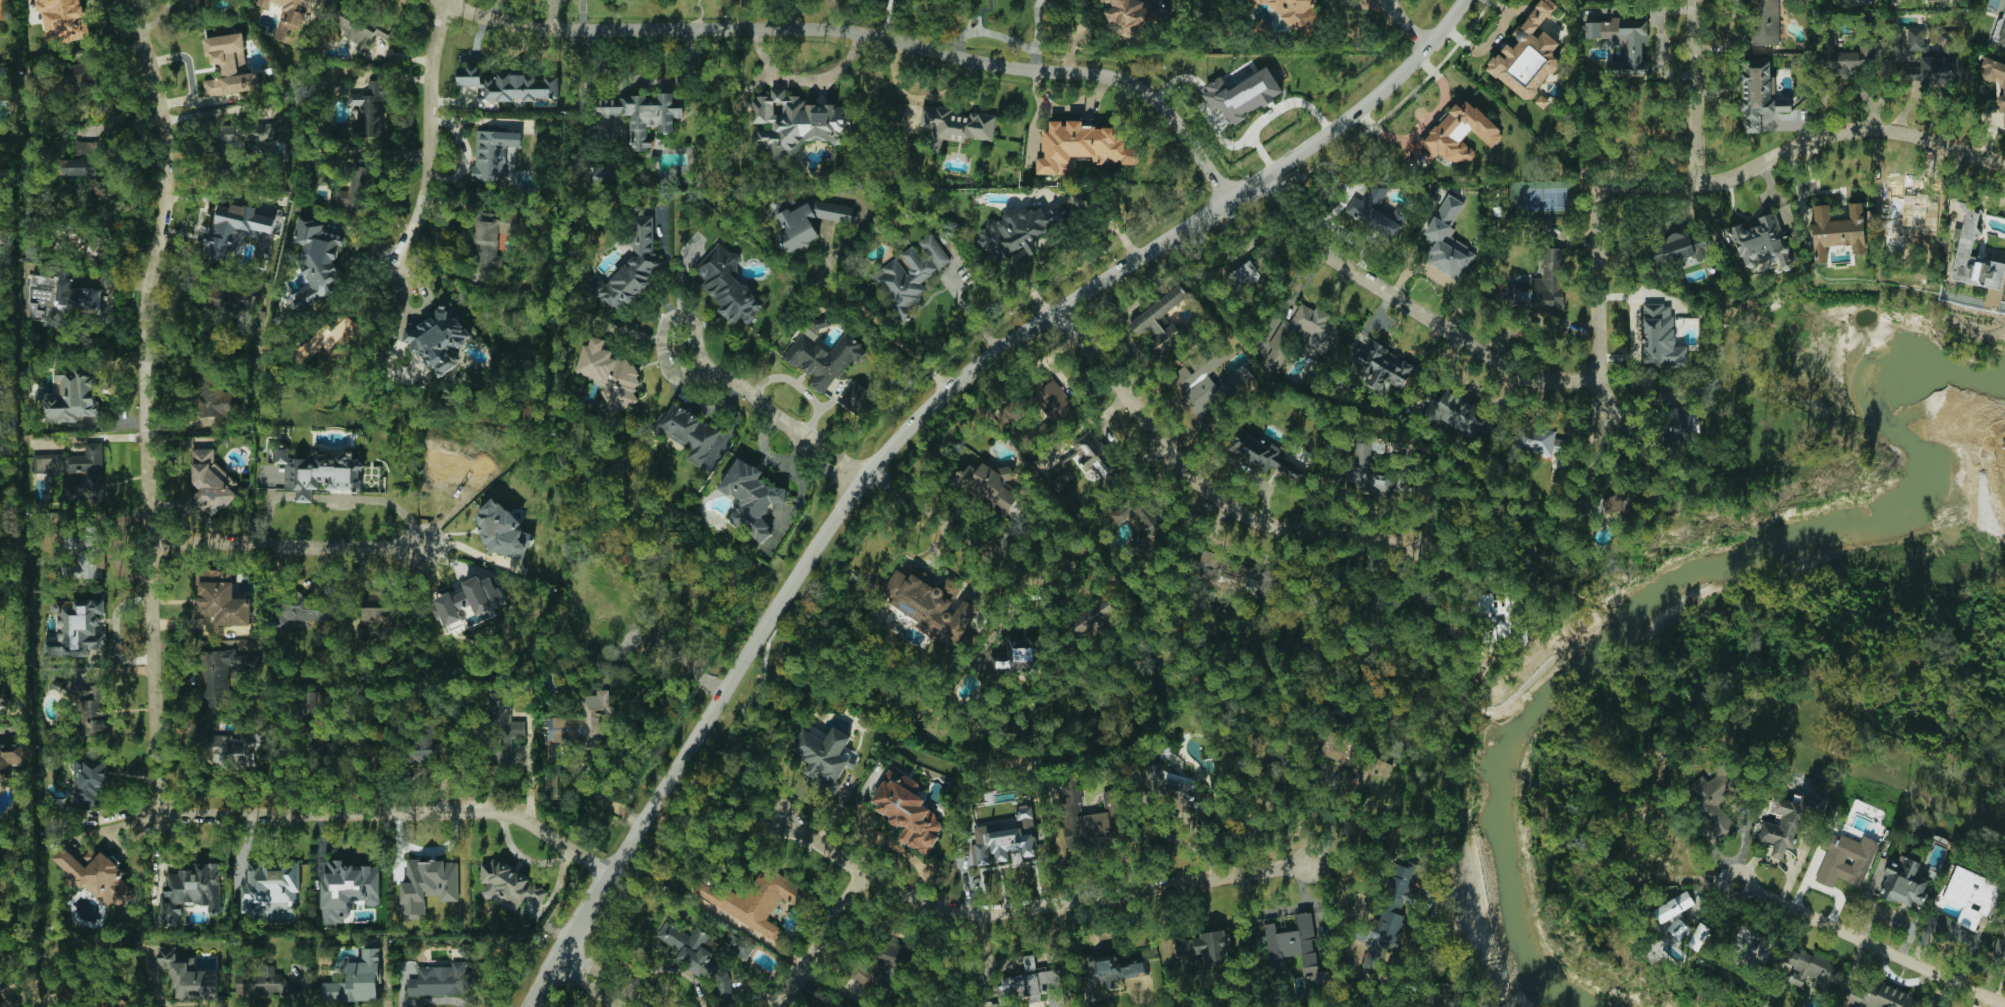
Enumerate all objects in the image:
building: (1103, 1)
building: (190, 4)
building: (4, 9)
building: (1294, 12)
road: (832, 13)
road: (739, 14)
building: (1127, 14)
building: (289, 18)
building: (64, 19)
building: (1764, 22)
road: (1406, 24)
building: (360, 26)
road: (863, 33)
road: (1035, 33)
road: (1069, 36)
building: (1622, 41)
building: (1527, 54)
building: (1844, 58)
building: (229, 65)
building: (1933, 70)
building: (3, 77)
road: (804, 78)
building: (1996, 80)
road: (643, 82)
building: (80, 83)
building: (511, 84)
road: (1692, 92)
building: (1243, 93)
building: (1759, 94)
building: (1541, 101)
road: (1062, 106)
building: (369, 109)
road: (1270, 113)
building: (643, 115)
building: (794, 122)
building: (954, 124)
road: (1846, 130)
building: (1460, 132)
road: (428, 134)
building: (263, 135)
building: (1082, 146)
building: (85, 148)
building: (493, 154)
building: (77, 167)
building: (356, 188)
building: (1375, 211)
building: (810, 221)
road: (1098, 226)
building: (1020, 229)
building: (1837, 230)
building: (240, 231)
building: (1447, 240)
building: (1761, 241)
building: (1964, 246)
building: (1679, 248)
road: (1597, 259)
building: (318, 260)
building: (630, 269)
building: (909, 275)
building: (1244, 275)
road: (96, 279)
road: (1097, 282)
building: (1543, 285)
building: (729, 286)
road: (957, 297)
building: (60, 300)
building: (232, 300)
building: (255, 306)
road: (1411, 310)
building: (1159, 320)
road: (665, 325)
road: (890, 331)
building: (337, 333)
building: (1661, 336)
building: (438, 339)
building: (1317, 340)
building: (824, 359)
building: (1380, 366)
building: (610, 374)
building: (213, 393)
building: (854, 395)
building: (73, 396)
building: (1039, 400)
road: (143, 403)
building: (1455, 411)
building: (1679, 421)
road: (783, 423)
building: (689, 432)
building: (1540, 441)
building: (1264, 454)
building: (1370, 471)
building: (77, 472)
building: (320, 472)
building: (1060, 475)
building: (211, 481)
building: (987, 484)
road: (1205, 492)
road: (306, 496)
building: (751, 497)
road: (379, 500)
building: (1624, 500)
road: (270, 509)
building: (1142, 518)
road: (949, 520)
building: (504, 531)
road: (282, 546)
river: (1788, 554)
building: (87, 557)
building: (1240, 576)
building: (222, 599)
building: (470, 599)
building: (930, 603)
building: (304, 609)
building: (1095, 615)
building: (377, 618)
building: (1500, 618)
road: (764, 624)
building: (76, 628)
building: (1015, 657)
building: (222, 674)
building: (311, 721)
building: (579, 721)
building: (502, 728)
building: (235, 743)
building: (421, 744)
building: (11, 757)
building: (823, 757)
building: (1356, 759)
building: (90, 782)
building: (1174, 788)
road: (593, 792)
building: (1712, 799)
building: (1071, 801)
building: (908, 811)
road: (389, 813)
road: (640, 821)
building: (1786, 824)
road: (112, 827)
building: (999, 843)
road: (900, 849)
road: (525, 857)
building: (1845, 858)
building: (97, 876)
building: (1903, 882)
building: (271, 885)
building: (428, 885)
building: (509, 885)
building: (348, 889)
building: (191, 892)
building: (1972, 895)
building: (752, 901)
road: (1025, 908)
building: (1387, 917)
building: (1680, 918)
road: (823, 940)
road: (1870, 944)
building: (739, 946)
building: (1755, 946)
building: (1205, 947)
building: (1295, 948)
building: (1999, 950)
building: (696, 954)
road: (987, 955)
building: (880, 963)
building: (1811, 969)
building: (1111, 972)
building: (188, 975)
building: (358, 980)
building: (439, 980)
building: (262, 981)
road: (597, 981)
building: (3, 982)
building: (1032, 985)
road: (10, 1006)

